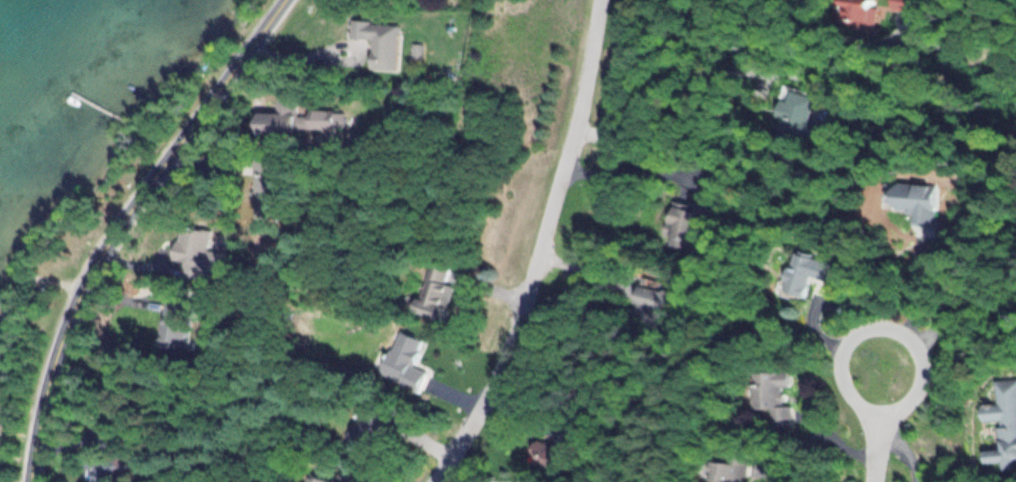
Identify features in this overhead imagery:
building: (859, 13)
building: (380, 42)
building: (797, 111)
building: (262, 180)
building: (913, 201)
road: (123, 224)
building: (681, 226)
building: (191, 245)
road: (541, 249)
building: (803, 272)
building: (433, 289)
building: (655, 305)
road: (880, 330)
building: (402, 359)
building: (764, 394)
building: (1001, 422)
building: (374, 424)
road: (873, 451)
building: (548, 453)
building: (720, 467)
building: (100, 470)
building: (318, 478)

